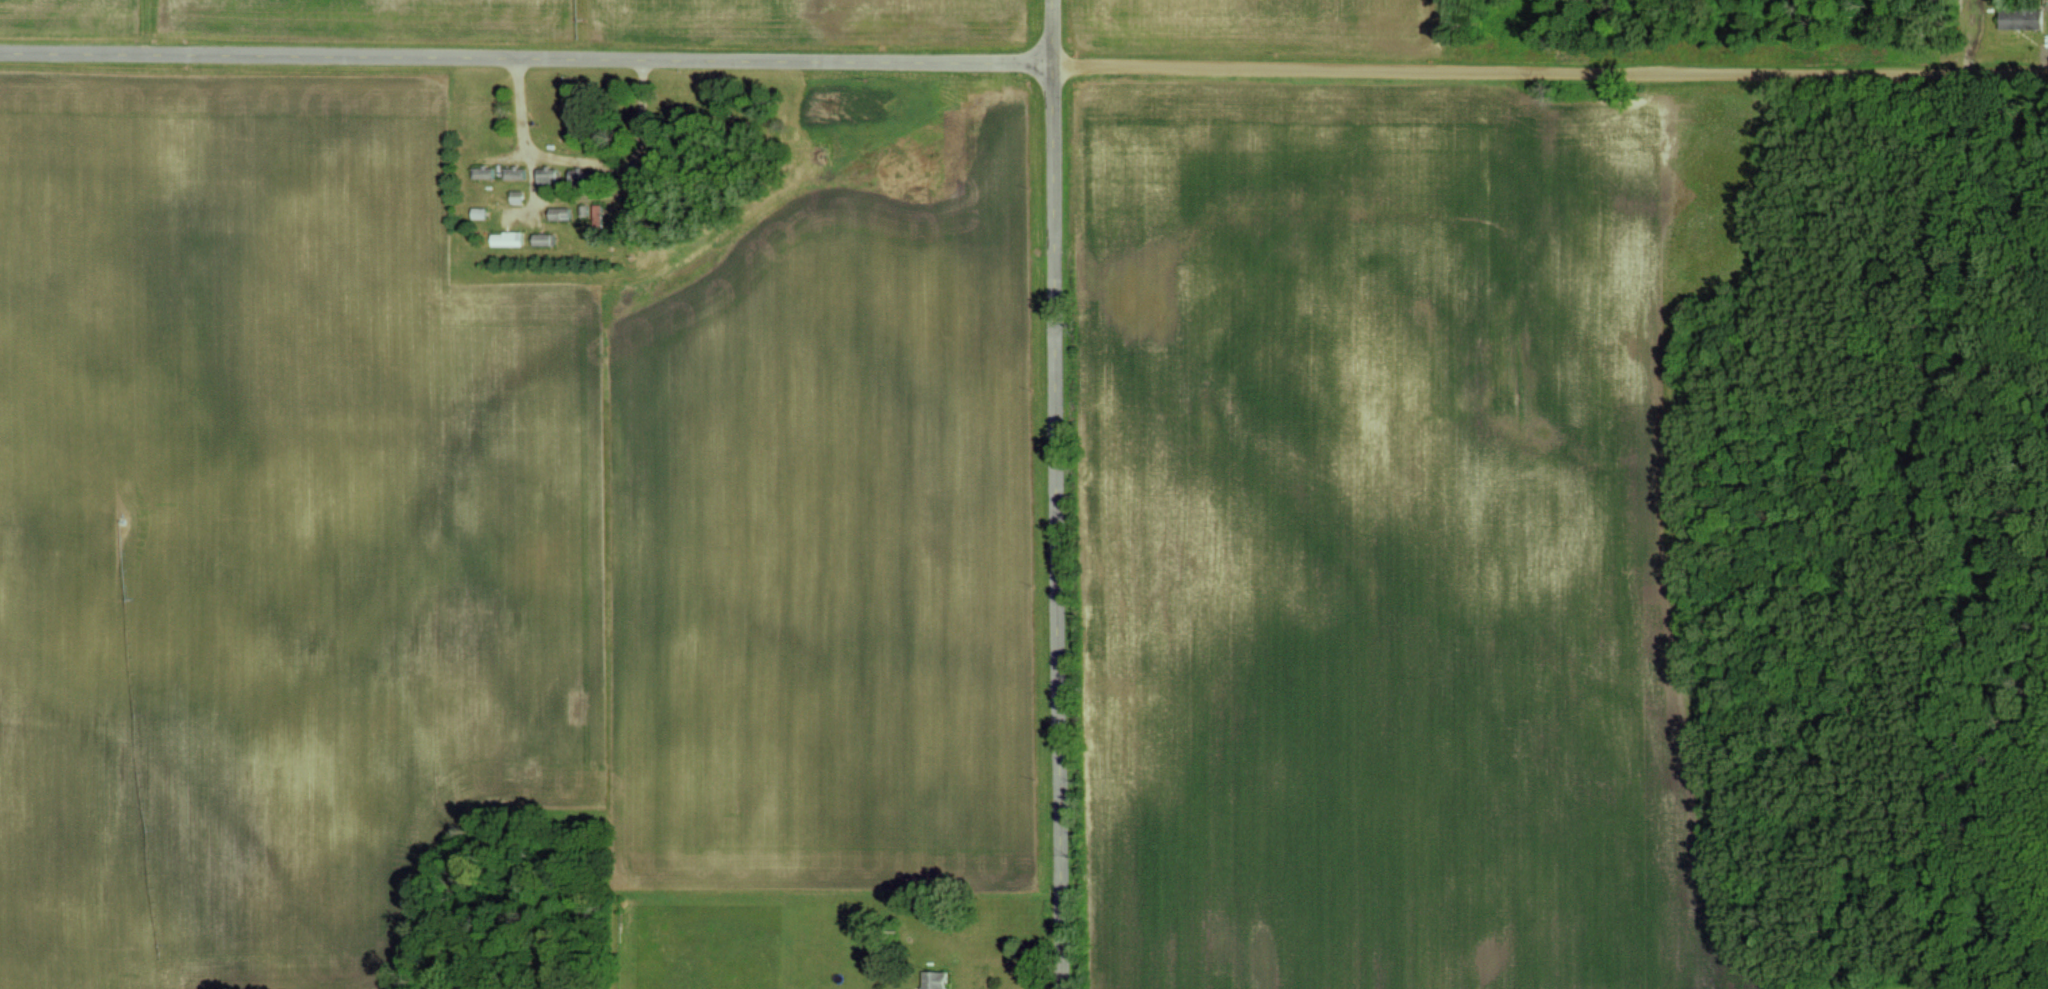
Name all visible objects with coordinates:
building: (2022, 19)
road: (1024, 60)
building: (546, 176)
building: (558, 213)
building: (507, 239)
building: (539, 239)
road: (1060, 494)
building: (933, 980)

